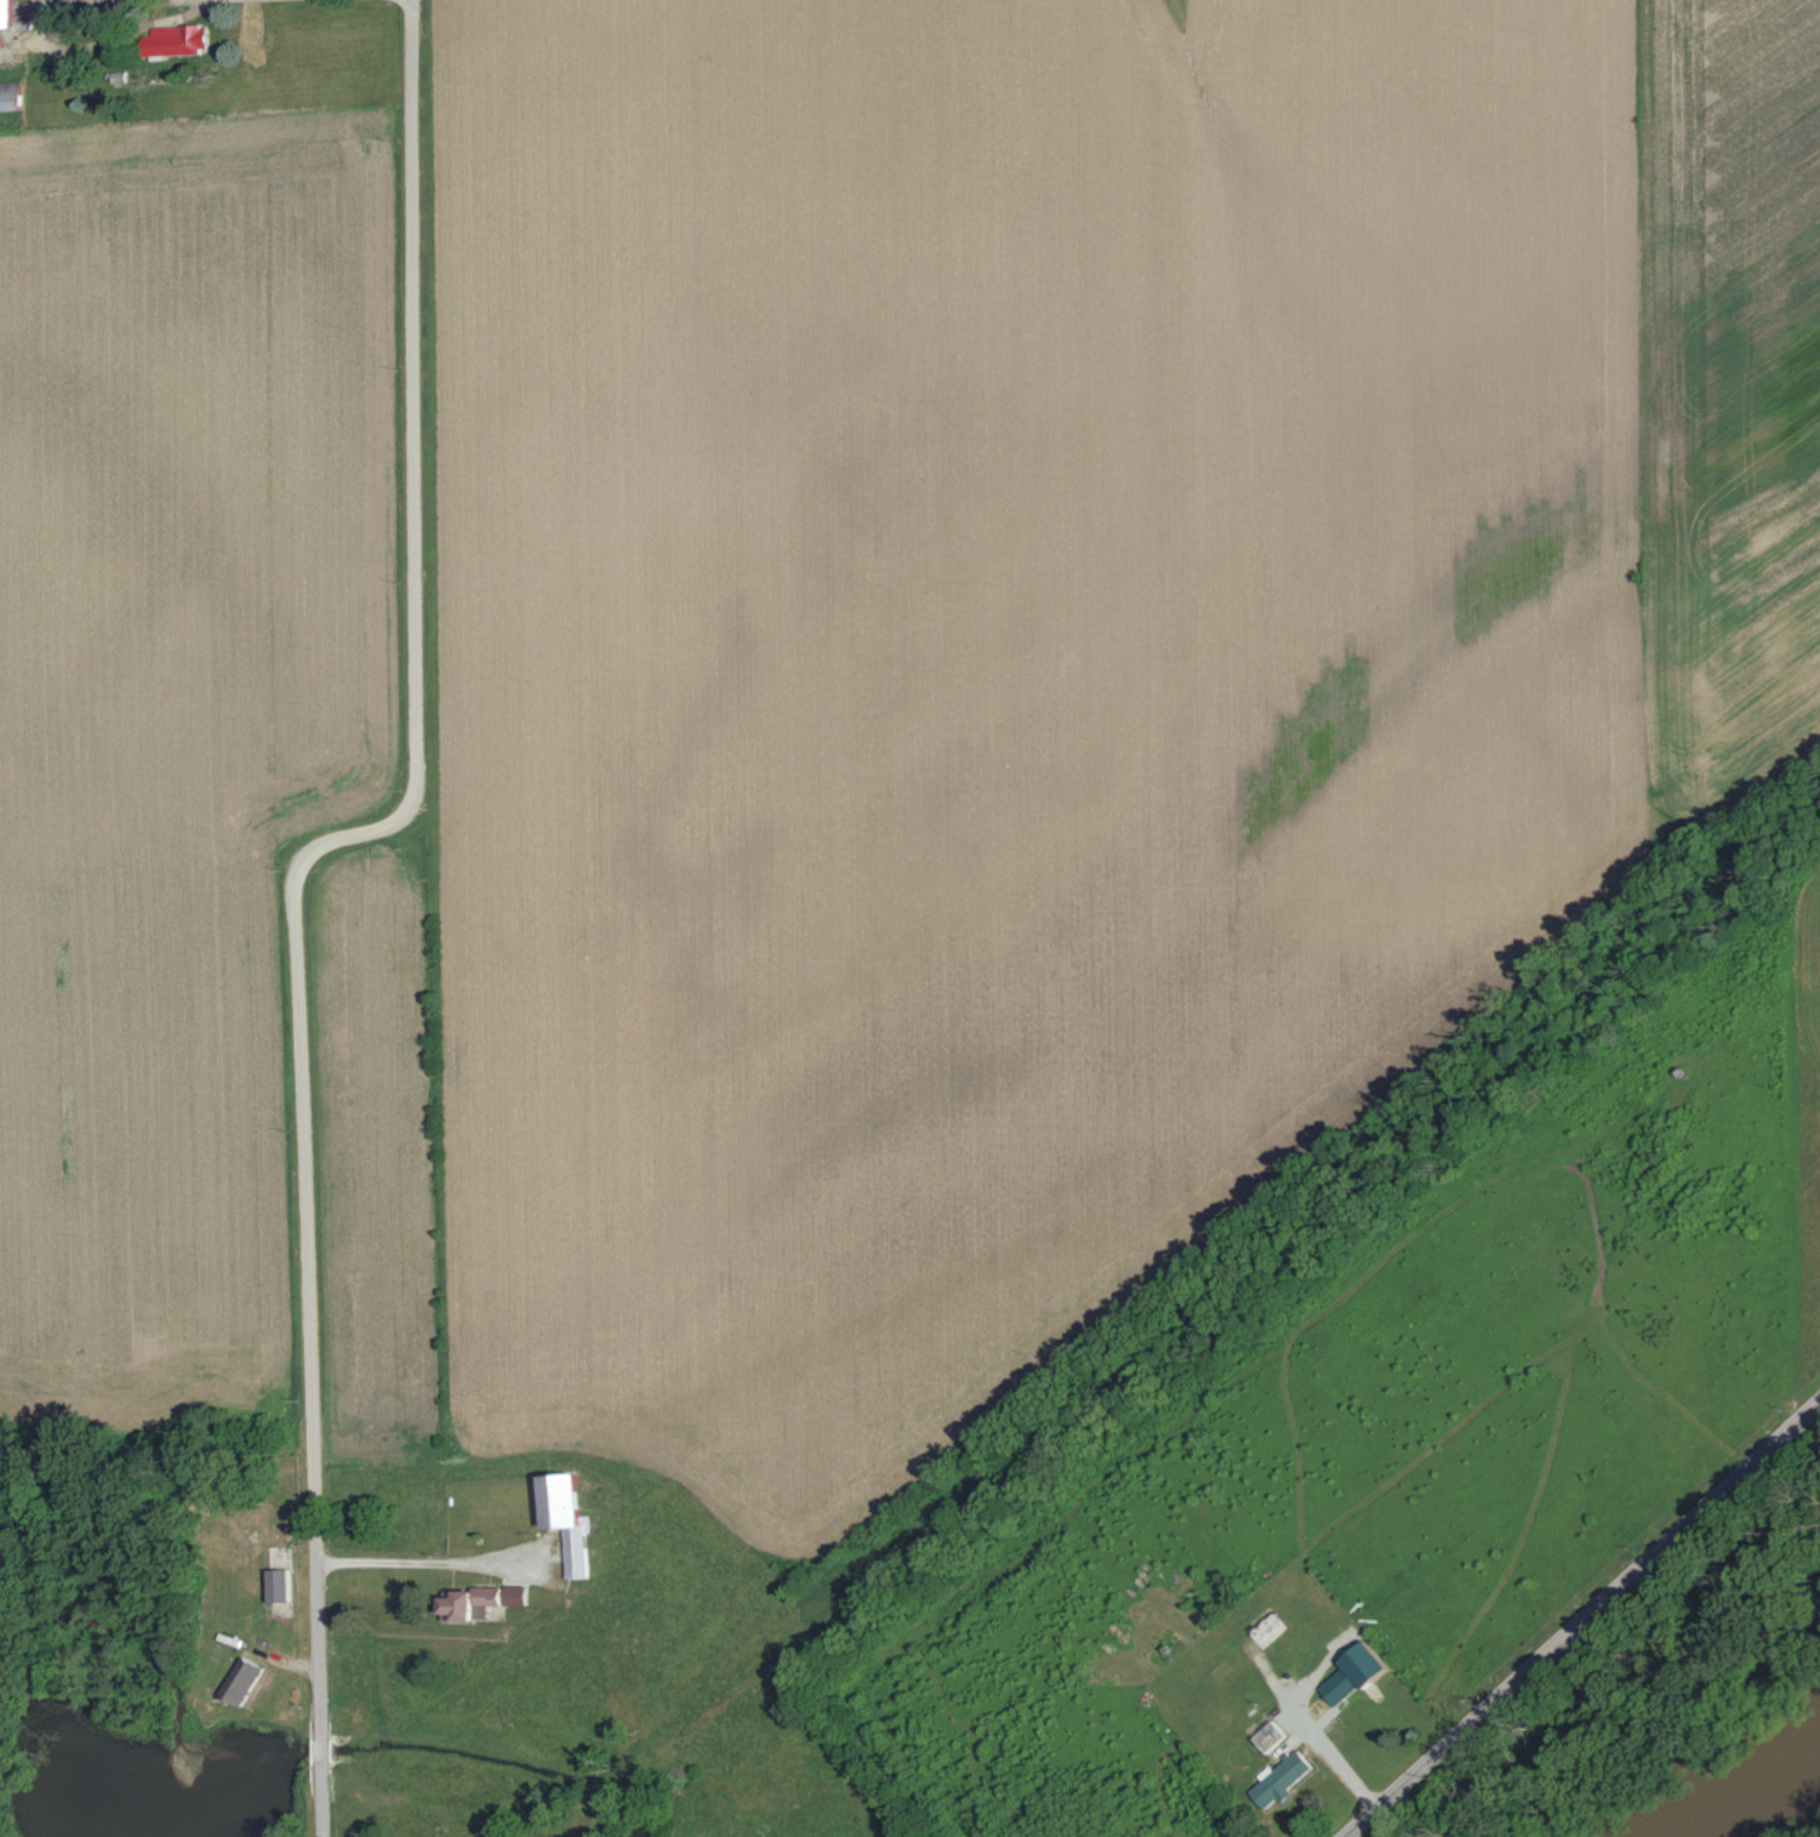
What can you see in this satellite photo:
building: (10, 17)
building: (183, 39)
road: (295, 879)
building: (575, 1521)
building: (490, 1601)
road: (1582, 1621)
building: (1346, 1671)
building: (247, 1679)
building: (1276, 1779)
river: (1746, 1801)

